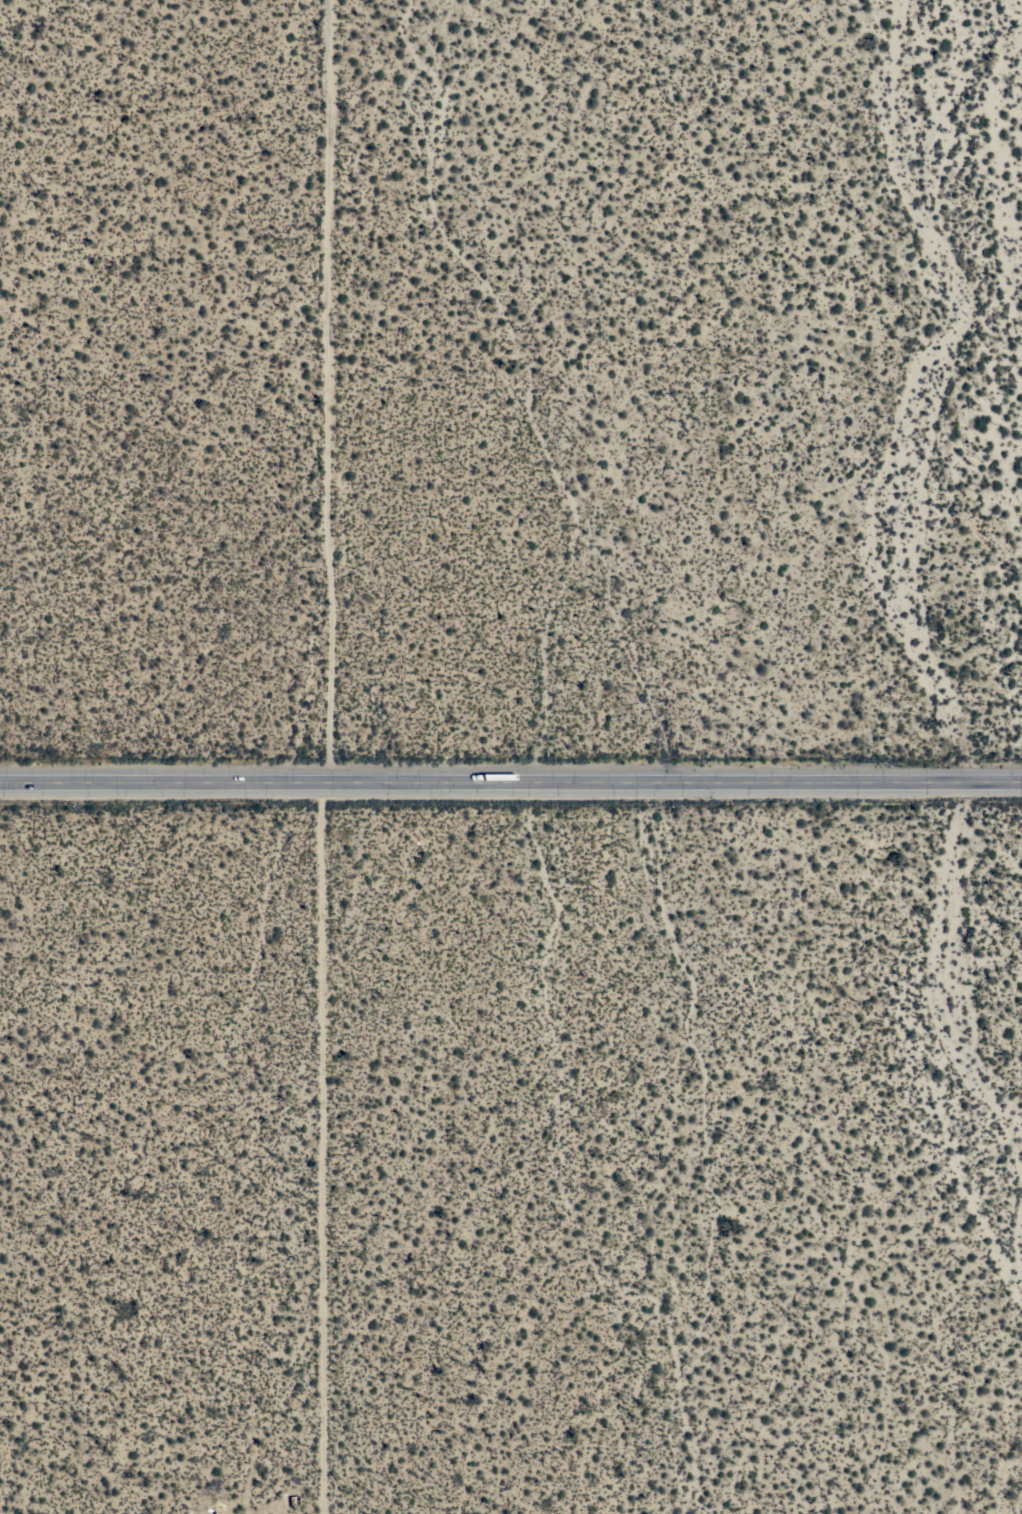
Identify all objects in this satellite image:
road: (340, 391)
road: (510, 783)
road: (311, 1145)

